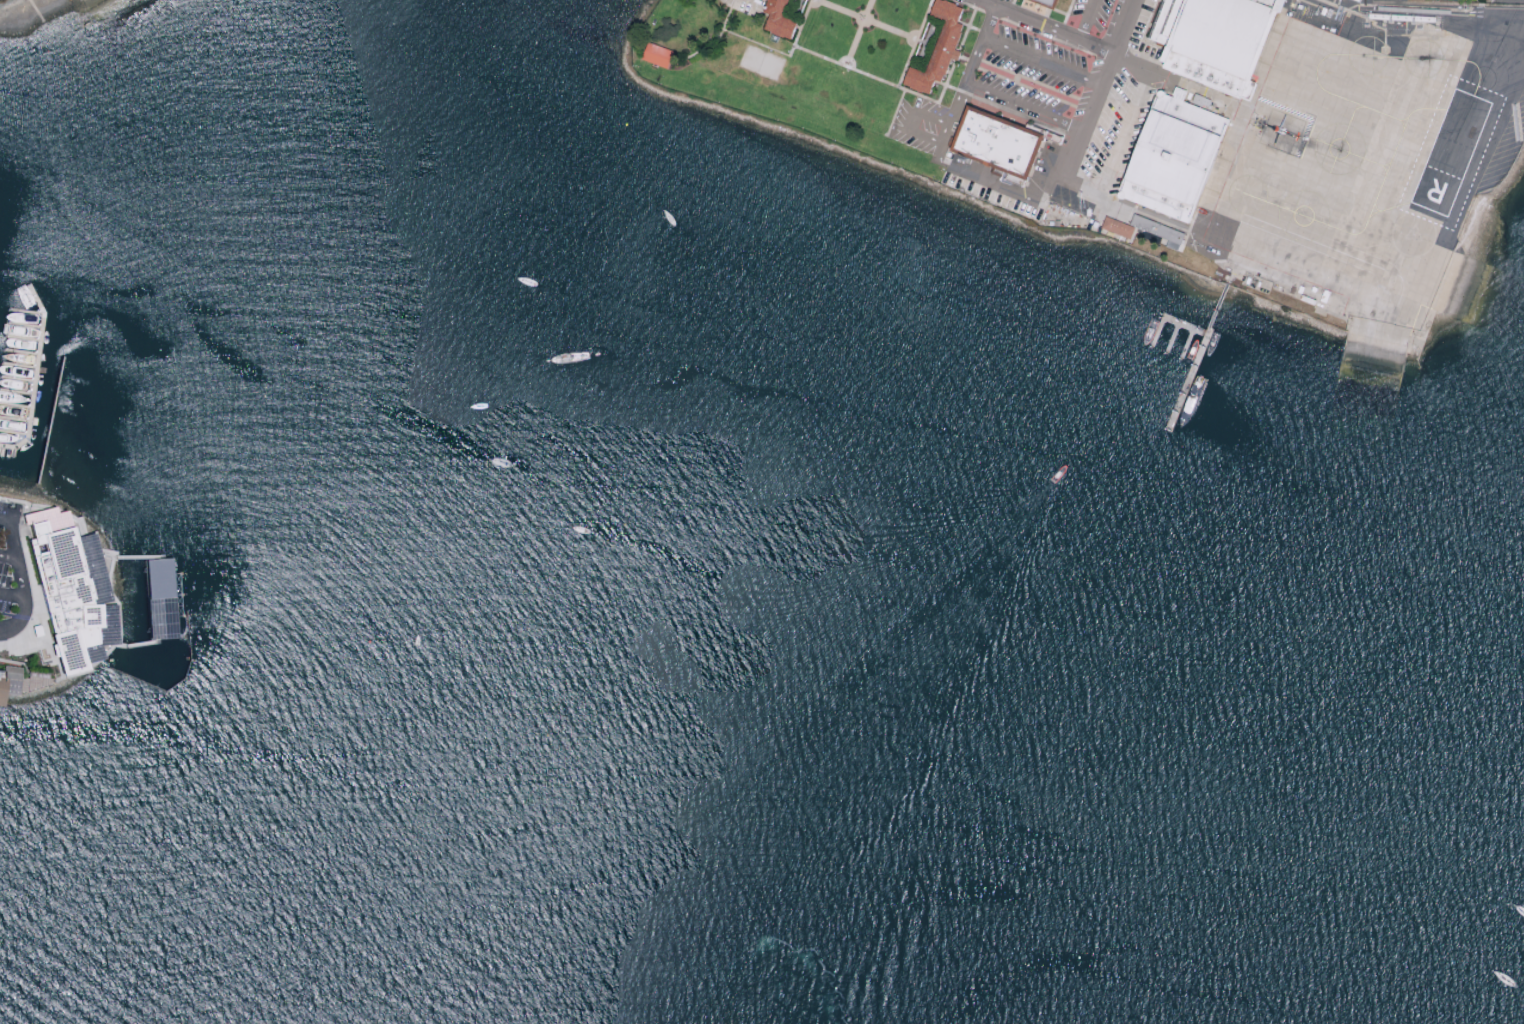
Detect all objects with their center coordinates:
building: (1357, 0)
building: (1045, 3)
airport hangar: (1272, 3)
building: (1272, 3)
road: (869, 5)
road: (813, 7)
road: (838, 9)
building: (1365, 14)
building: (1378, 16)
storage tank: (1378, 16)
building: (1401, 17)
storage tank: (1401, 17)
flagpole: (863, 18)
building: (1424, 18)
storage tank: (1424, 18)
building: (1437, 18)
road: (1086, 19)
building: (779, 20)
road: (855, 20)
airport hangar: (1167, 21)
building: (1167, 21)
building: (1383, 23)
building: (1366, 24)
road: (1046, 25)
building: (1419, 26)
road: (799, 28)
road: (889, 29)
road: (976, 29)
road: (912, 30)
road: (966, 31)
airport hangar: (1225, 33)
building: (1225, 33)
road: (854, 41)
road: (755, 42)
road: (712, 43)
road: (914, 43)
building: (938, 49)
road: (814, 54)
building: (657, 55)
road: (840, 56)
road: (966, 59)
road: (1041, 61)
park: (762, 62)
road: (972, 64)
road: (1130, 64)
airport hangar: (1208, 74)
building: (1208, 74)
road: (875, 78)
road: (946, 81)
road: (948, 86)
road: (1097, 88)
road: (1194, 89)
road: (917, 94)
parking lot: (1074, 94)
airport hangar: (1180, 94)
building: (1180, 94)
road: (1023, 107)
road: (895, 112)
parking lot: (925, 126)
road: (909, 131)
building: (998, 143)
airport hangar: (1179, 149)
building: (1179, 149)
road: (940, 153)
road: (1119, 154)
airport apron: (1355, 163)
road: (1004, 186)
parking lot: (995, 187)
airport hangar: (1158, 201)
building: (1158, 201)
building: (1119, 227)
building: (1160, 231)
helipad: (1413, 236)
road: (1229, 280)
road: (1218, 307)
pier: (1184, 325)
pier: (1156, 331)
pier: (1172, 338)
pier: (1187, 344)
pier: (38, 366)
pier: (1188, 379)
pier: (11, 449)
pier: (77, 527)
road: (12, 535)
road: (8, 557)
pier: (138, 558)
pier: (107, 564)
building: (72, 590)
road: (12, 594)
road: (24, 597)
building: (160, 601)
parking lot: (9, 619)
pier: (117, 620)
road: (5, 631)
pier: (138, 646)
pier: (107, 651)
pier: (109, 661)
pier: (83, 670)
building: (9, 683)

